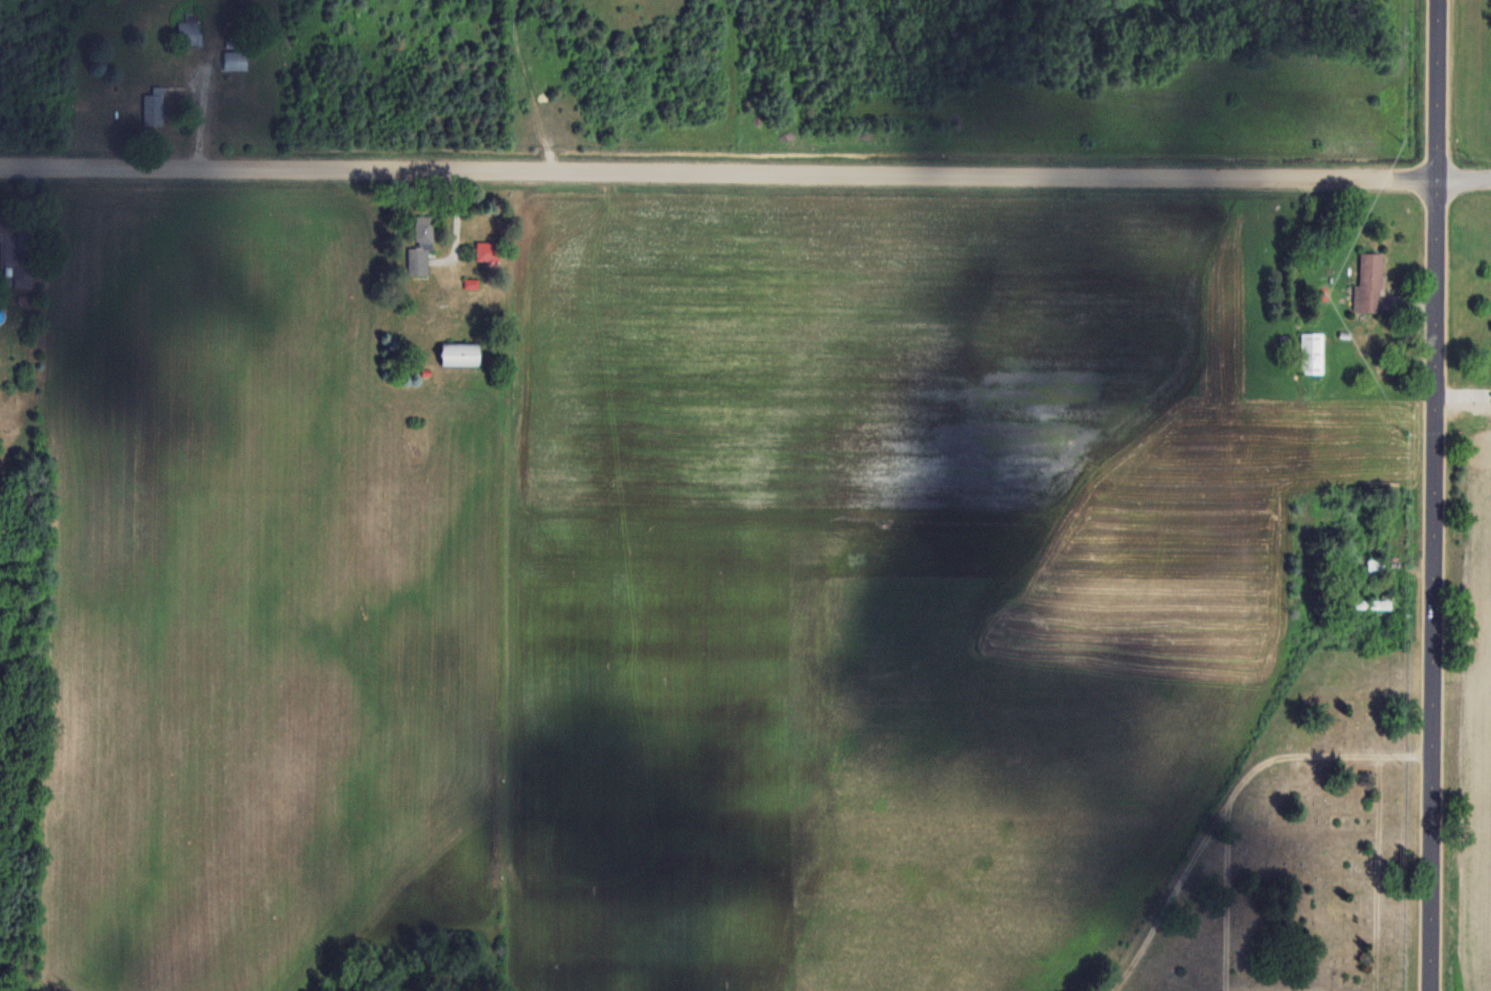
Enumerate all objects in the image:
building: (189, 31)
building: (235, 60)
road: (1438, 89)
building: (153, 109)
road: (745, 171)
building: (420, 247)
building: (487, 250)
building: (14, 255)
building: (1369, 283)
building: (1312, 352)
building: (458, 353)
building: (1376, 567)
road: (1433, 584)
building: (1369, 603)
park: (1291, 845)

